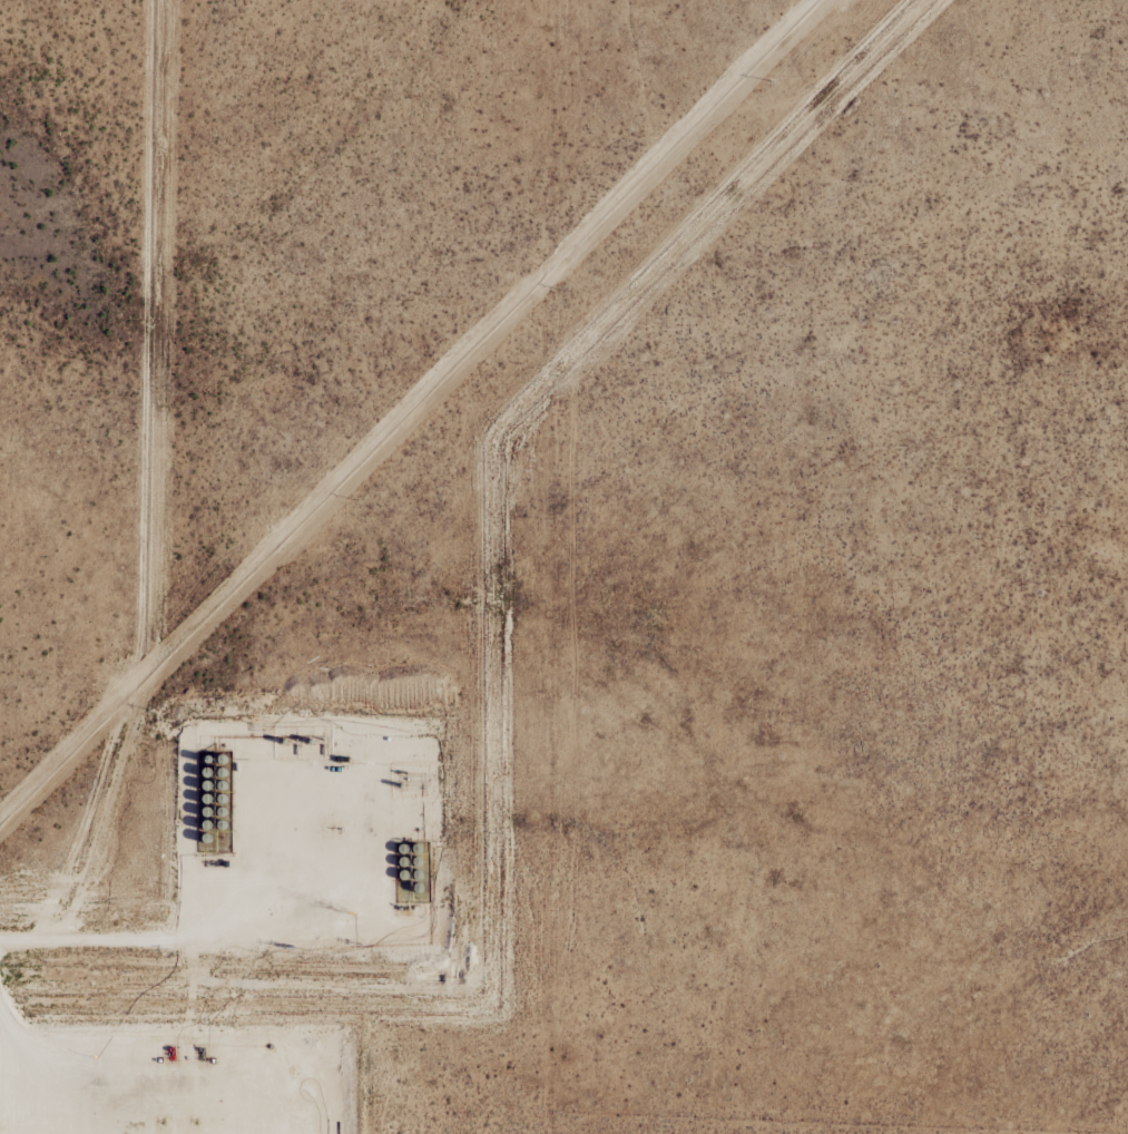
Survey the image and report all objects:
road: (320, 824)
petroleum well: (332, 827)
road: (114, 926)
road: (31, 1058)
road: (200, 1096)
petroleum well: (163, 1121)
petroleum well: (197, 1121)

